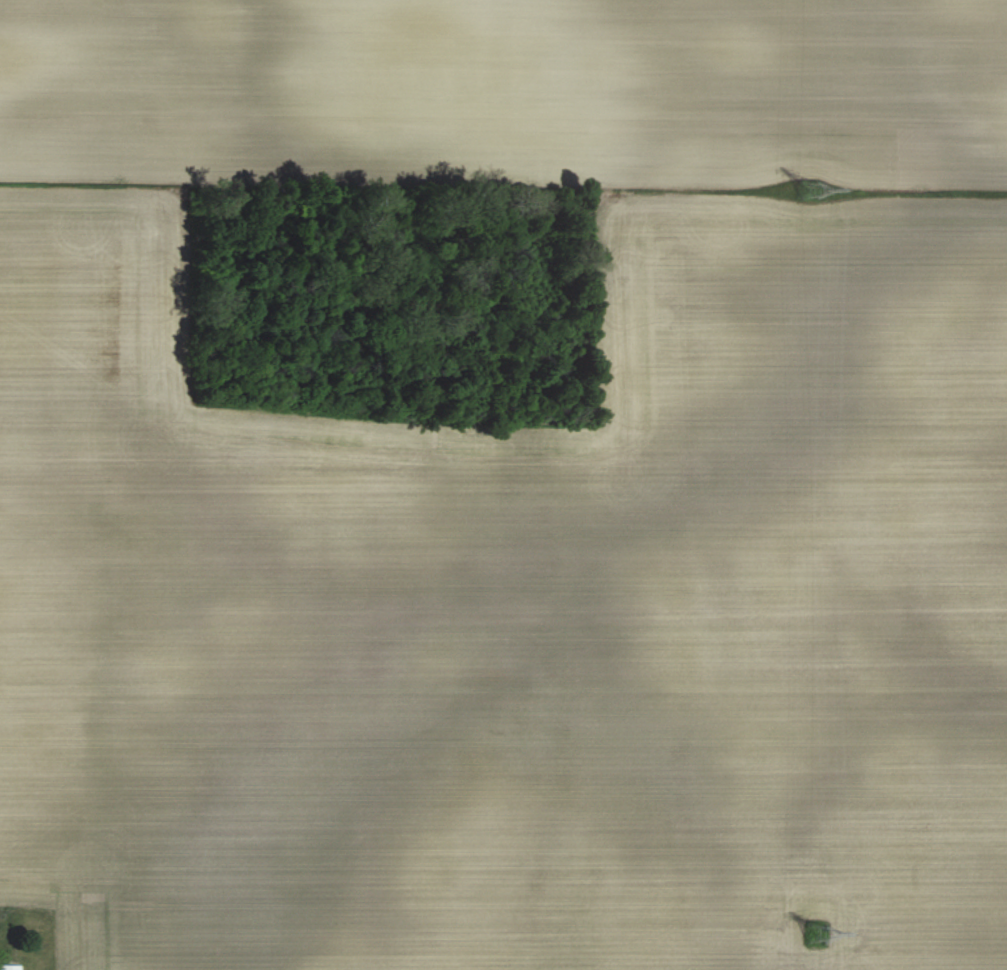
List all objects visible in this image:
power tower: (802, 188)
power tower: (810, 935)
building: (7, 967)

